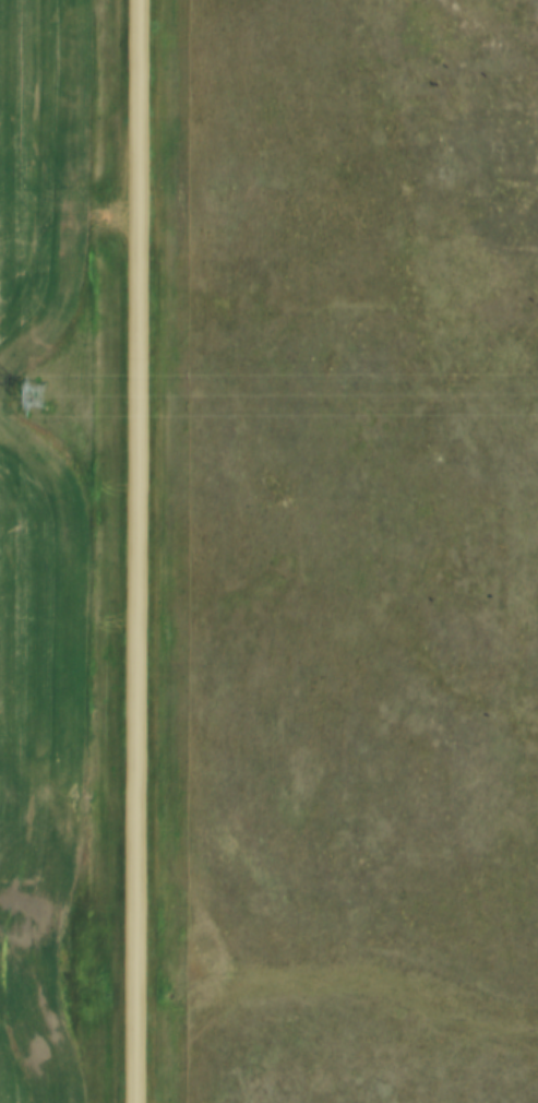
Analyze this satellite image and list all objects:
power tower: (23, 396)
road: (138, 550)

